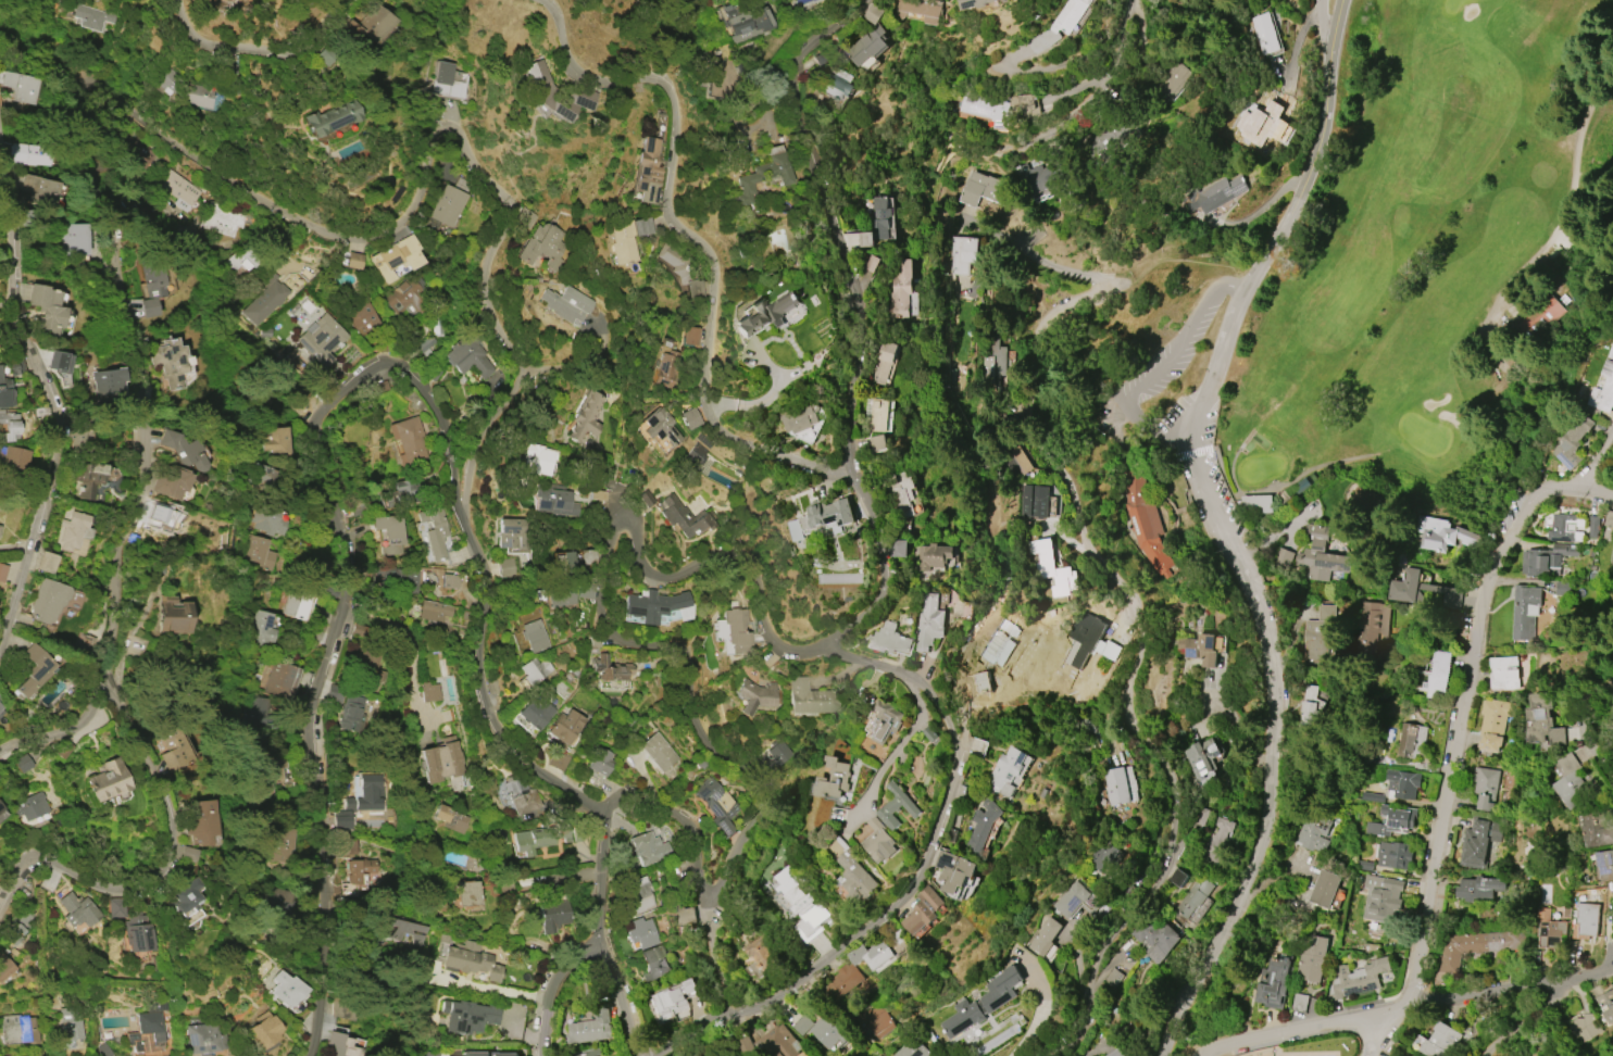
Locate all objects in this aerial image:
building: (973, 2)
park: (1452, 5)
building: (917, 11)
building: (90, 17)
building: (745, 21)
building: (367, 25)
building: (1058, 25)
road: (1322, 32)
building: (1263, 34)
building: (865, 45)
road: (248, 52)
building: (450, 79)
building: (164, 80)
building: (1172, 80)
building: (837, 83)
road: (1101, 85)
building: (20, 86)
building: (539, 87)
building: (197, 95)
building: (1281, 105)
building: (998, 110)
building: (329, 117)
building: (1259, 126)
building: (1284, 130)
building: (116, 131)
building: (1112, 138)
road: (1302, 150)
building: (137, 153)
building: (38, 154)
road: (195, 154)
building: (649, 163)
building: (760, 174)
building: (1042, 183)
building: (177, 188)
building: (39, 189)
building: (983, 189)
building: (1214, 194)
building: (447, 205)
building: (137, 209)
building: (221, 219)
building: (876, 223)
road: (683, 238)
building: (75, 239)
building: (540, 244)
building: (618, 246)
building: (962, 254)
park: (1417, 254)
building: (243, 256)
building: (395, 257)
road: (1177, 260)
building: (352, 261)
road: (1040, 261)
building: (293, 266)
building: (680, 269)
building: (151, 285)
building: (899, 289)
building: (408, 298)
building: (265, 302)
building: (565, 303)
building: (47, 310)
building: (762, 314)
building: (1541, 315)
building: (361, 316)
building: (689, 336)
building: (320, 339)
building: (467, 355)
building: (170, 360)
building: (59, 362)
building: (883, 362)
building: (665, 363)
building: (1000, 363)
road: (1162, 365)
building: (14, 367)
building: (435, 373)
road: (1034, 375)
building: (108, 386)
road: (352, 387)
building: (1604, 389)
building: (3, 394)
road: (32, 412)
building: (875, 413)
building: (687, 418)
building: (583, 419)
building: (800, 419)
building: (8, 427)
building: (74, 432)
park: (1423, 432)
building: (408, 440)
building: (277, 441)
building: (1571, 441)
building: (877, 442)
building: (184, 450)
building: (12, 457)
building: (699, 457)
building: (534, 458)
road: (1597, 458)
park: (1259, 468)
building: (259, 474)
building: (86, 477)
building: (171, 481)
parking lot: (1223, 481)
building: (1301, 482)
road: (1277, 485)
building: (605, 493)
building: (903, 494)
building: (549, 499)
building: (645, 499)
building: (1366, 500)
building: (1035, 501)
building: (1255, 502)
building: (1, 504)
building: (833, 513)
building: (684, 517)
building: (267, 518)
building: (1609, 519)
building: (1145, 524)
building: (1593, 526)
building: (1561, 528)
building: (434, 531)
building: (510, 532)
building: (74, 533)
building: (391, 533)
building: (1441, 535)
building: (898, 549)
building: (259, 552)
building: (935, 555)
building: (1321, 555)
building: (587, 557)
building: (1548, 557)
building: (45, 563)
building: (563, 564)
building: (508, 567)
road: (748, 568)
building: (1052, 568)
building: (2, 573)
building: (397, 577)
building: (451, 581)
building: (1412, 586)
building: (1565, 589)
building: (559, 594)
building: (47, 600)
building: (298, 602)
building: (655, 606)
building: (432, 611)
building: (1525, 612)
building: (172, 616)
building: (930, 620)
building: (1362, 626)
building: (260, 627)
building: (1377, 627)
building: (533, 636)
building: (1320, 636)
building: (1083, 638)
building: (888, 639)
building: (1203, 648)
building: (366, 667)
road: (1271, 669)
building: (32, 670)
building: (533, 670)
building: (1440, 671)
building: (1503, 672)
building: (612, 674)
building: (282, 680)
building: (428, 691)
building: (753, 696)
building: (808, 697)
building: (1, 705)
road: (1465, 706)
road: (47, 707)
building: (1312, 707)
building: (257, 712)
building: (352, 712)
building: (534, 712)
building: (1, 714)
road: (1583, 716)
building: (885, 720)
building: (1545, 720)
building: (1493, 724)
building: (563, 726)
building: (1411, 739)
building: (174, 750)
road: (897, 752)
building: (659, 753)
building: (776, 757)
building: (1202, 757)
building: (440, 759)
building: (601, 762)
building: (22, 764)
building: (1005, 771)
building: (268, 774)
road: (1165, 775)
building: (834, 779)
building: (105, 780)
building: (1573, 782)
building: (1120, 784)
building: (1397, 787)
building: (1484, 788)
building: (367, 792)
building: (520, 794)
building: (718, 805)
building: (29, 806)
building: (897, 806)
building: (0, 807)
building: (1200, 816)
building: (450, 819)
building: (342, 820)
building: (1392, 821)
building: (201, 822)
building: (1598, 827)
building: (981, 829)
building: (497, 833)
building: (1314, 833)
building: (538, 838)
building: (1217, 841)
building: (1478, 841)
building: (878, 842)
building: (279, 844)
building: (347, 845)
building: (648, 846)
building: (189, 854)
building: (1393, 854)
building: (1109, 856)
building: (1605, 865)
road: (158, 868)
building: (364, 869)
building: (952, 870)
building: (852, 871)
building: (1178, 878)
road: (905, 882)
building: (1479, 888)
building: (1324, 889)
building: (464, 895)
building: (637, 895)
building: (1193, 896)
building: (1381, 896)
building: (184, 900)
building: (1076, 900)
building: (274, 903)
building: (800, 904)
building: (78, 908)
building: (114, 908)
building: (923, 910)
building: (553, 916)
building: (689, 916)
building: (1585, 920)
building: (17, 922)
building: (1549, 929)
building: (401, 930)
building: (641, 932)
building: (137, 933)
building: (1043, 938)
building: (1153, 939)
building: (1477, 946)
building: (873, 954)
building: (760, 957)
building: (1312, 957)
building: (470, 960)
road: (713, 960)
building: (653, 961)
building: (4, 966)
building: (1113, 978)
building: (1359, 978)
building: (846, 981)
building: (1273, 982)
road: (548, 983)
road: (1540, 984)
road: (474, 985)
building: (284, 989)
road: (621, 995)
building: (676, 997)
building: (984, 1002)
building: (1606, 1005)
building: (341, 1010)
road: (1040, 1015)
building: (467, 1016)
building: (875, 1021)
building: (68, 1024)
building: (591, 1026)
building: (1586, 1027)
road: (1299, 1028)
building: (18, 1029)
building: (260, 1030)
building: (829, 1030)
road: (1389, 1031)
building: (143, 1032)
building: (200, 1036)
building: (1442, 1040)
building: (778, 1043)
building: (746, 1047)
building: (340, 1048)
building: (913, 1048)
building: (101, 1049)
building: (586, 1053)
building: (1116, 1053)
building: (428, 1054)
building: (488, 1054)
building: (876, 1055)
building: (1560, 1055)

